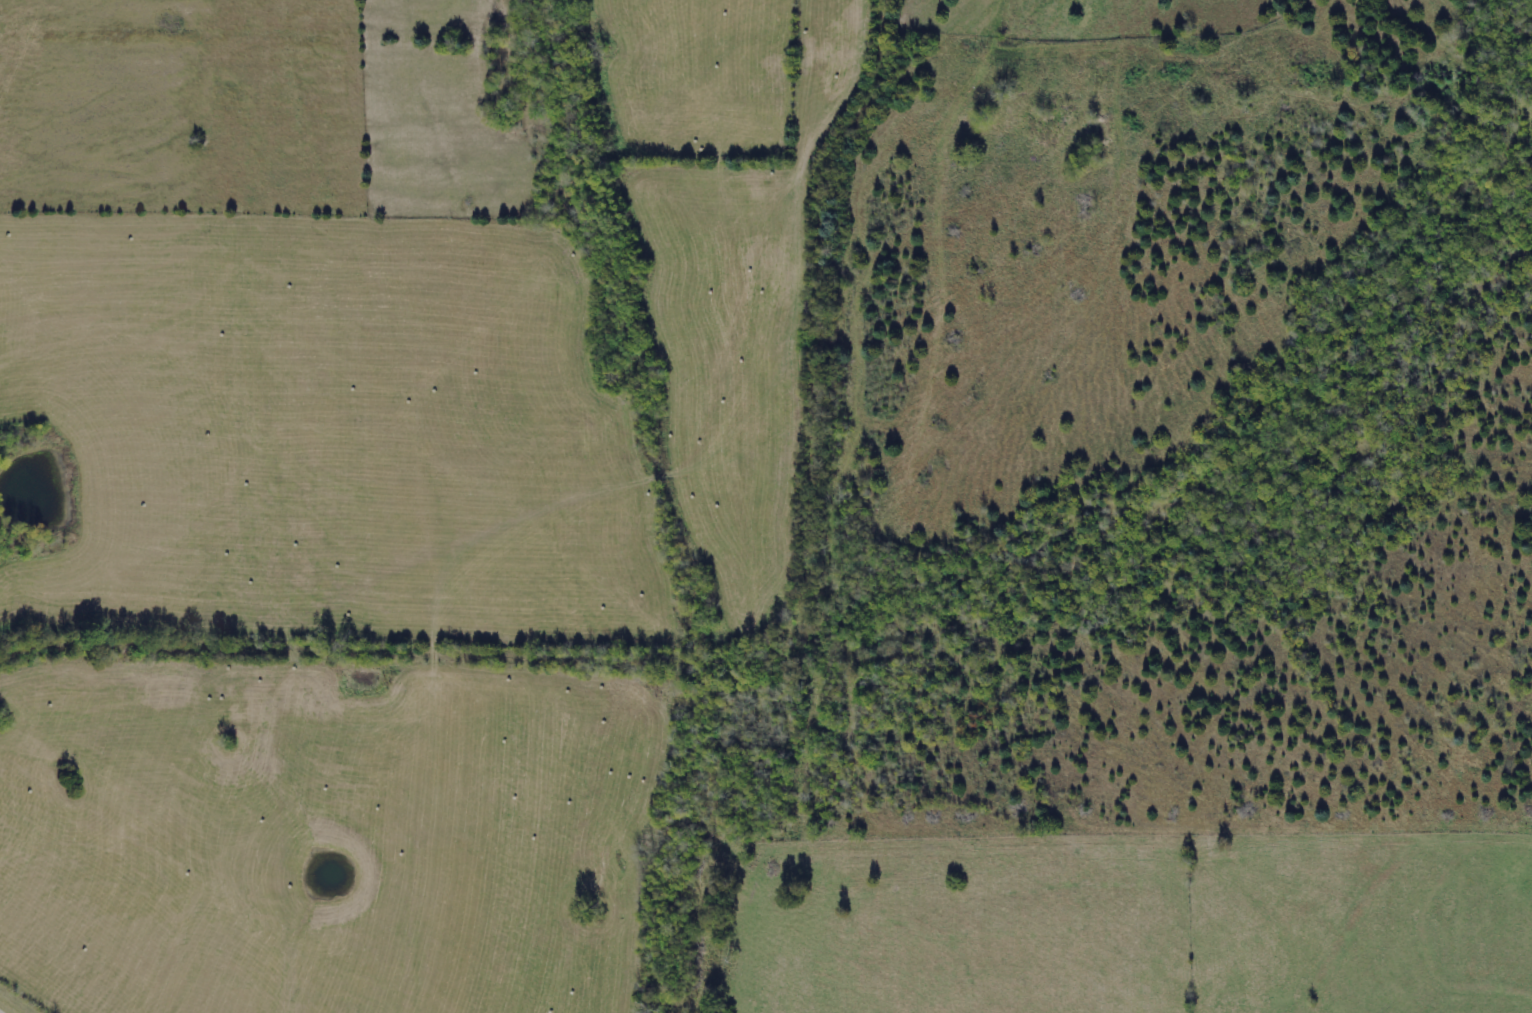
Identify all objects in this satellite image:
railway: (10, 1005)

